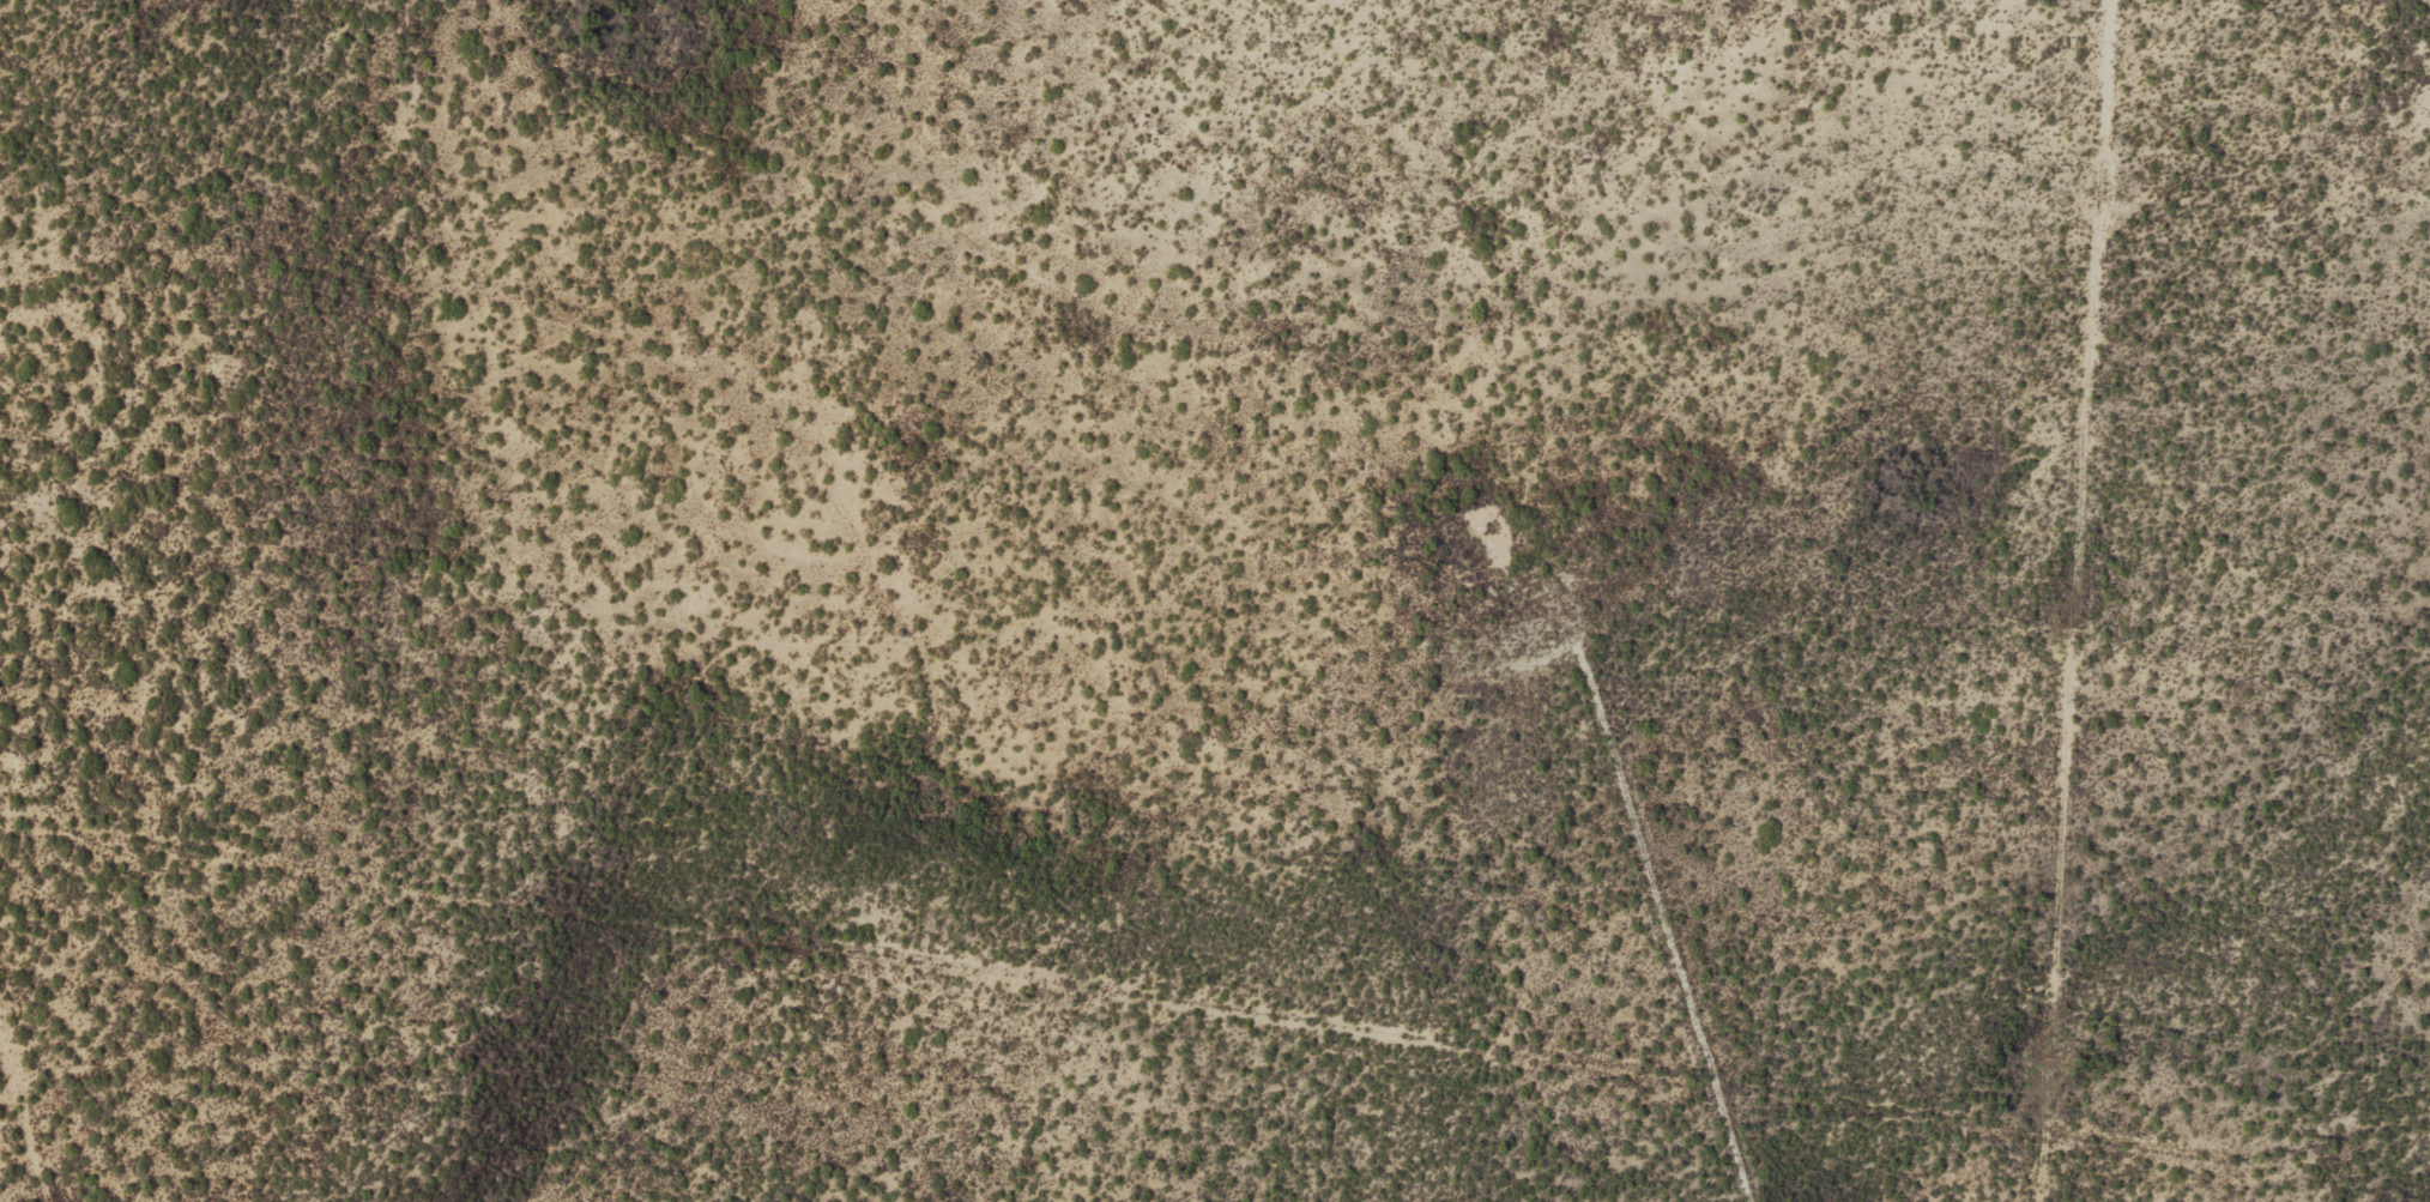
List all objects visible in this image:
power tower: (2097, 200)
power tower: (2071, 630)
power tower: (2045, 1061)

